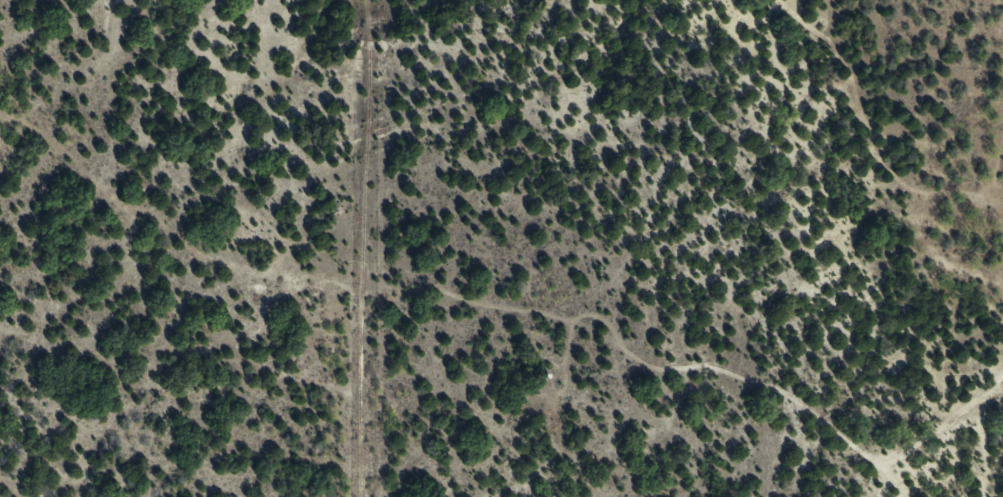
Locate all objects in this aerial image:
road: (97, 144)
road: (993, 287)

